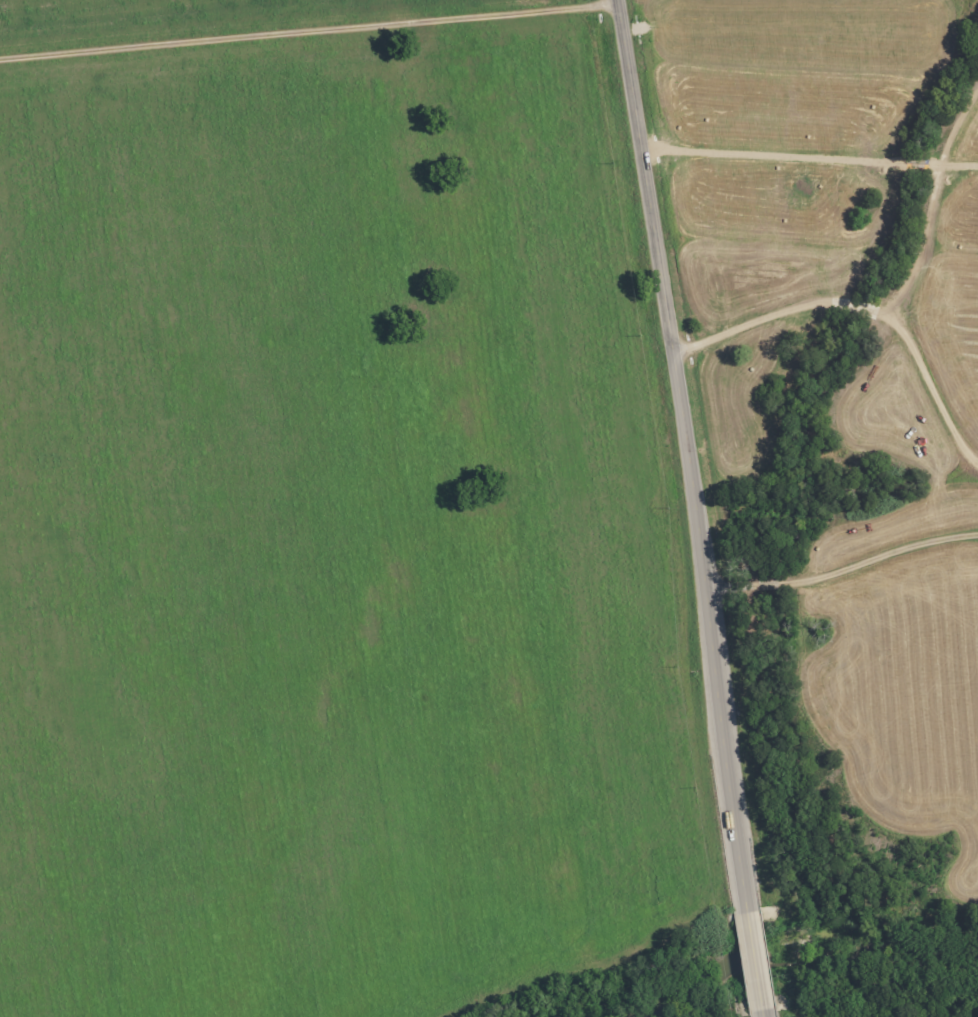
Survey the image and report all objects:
road: (699, 508)
road: (883, 863)

